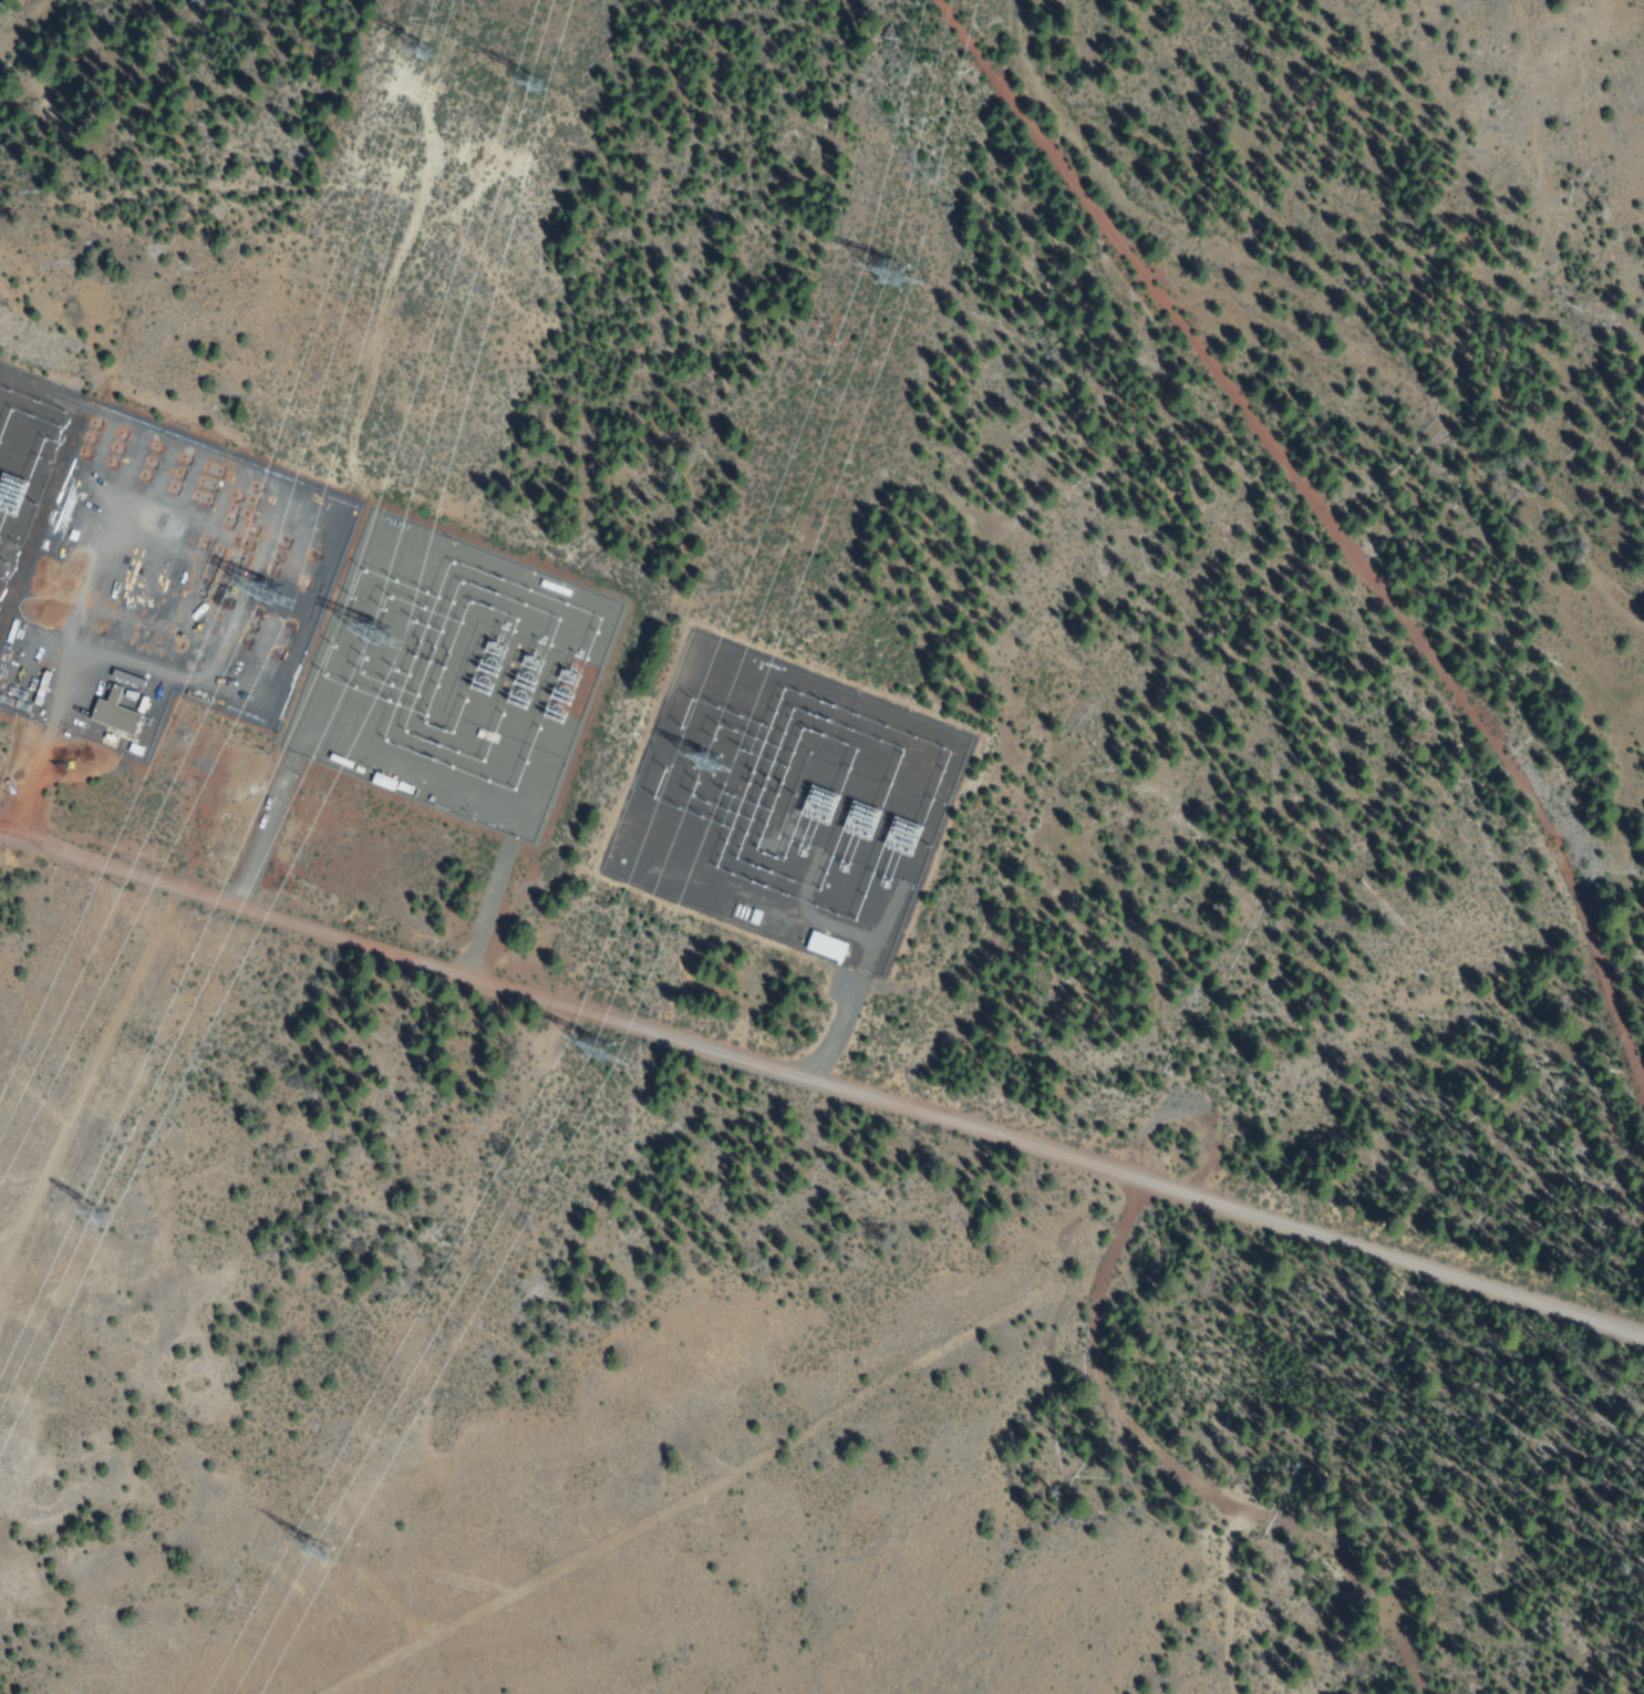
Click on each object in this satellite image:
power tower: (403, 40)
power tower: (530, 83)
power tower: (880, 278)
power tower: (252, 586)
power tower: (379, 633)
power substation: (455, 678)
building: (106, 709)
power tower: (701, 762)
road: (90, 1077)
road: (823, 1078)
power tower: (80, 1217)
power tower: (308, 1559)

